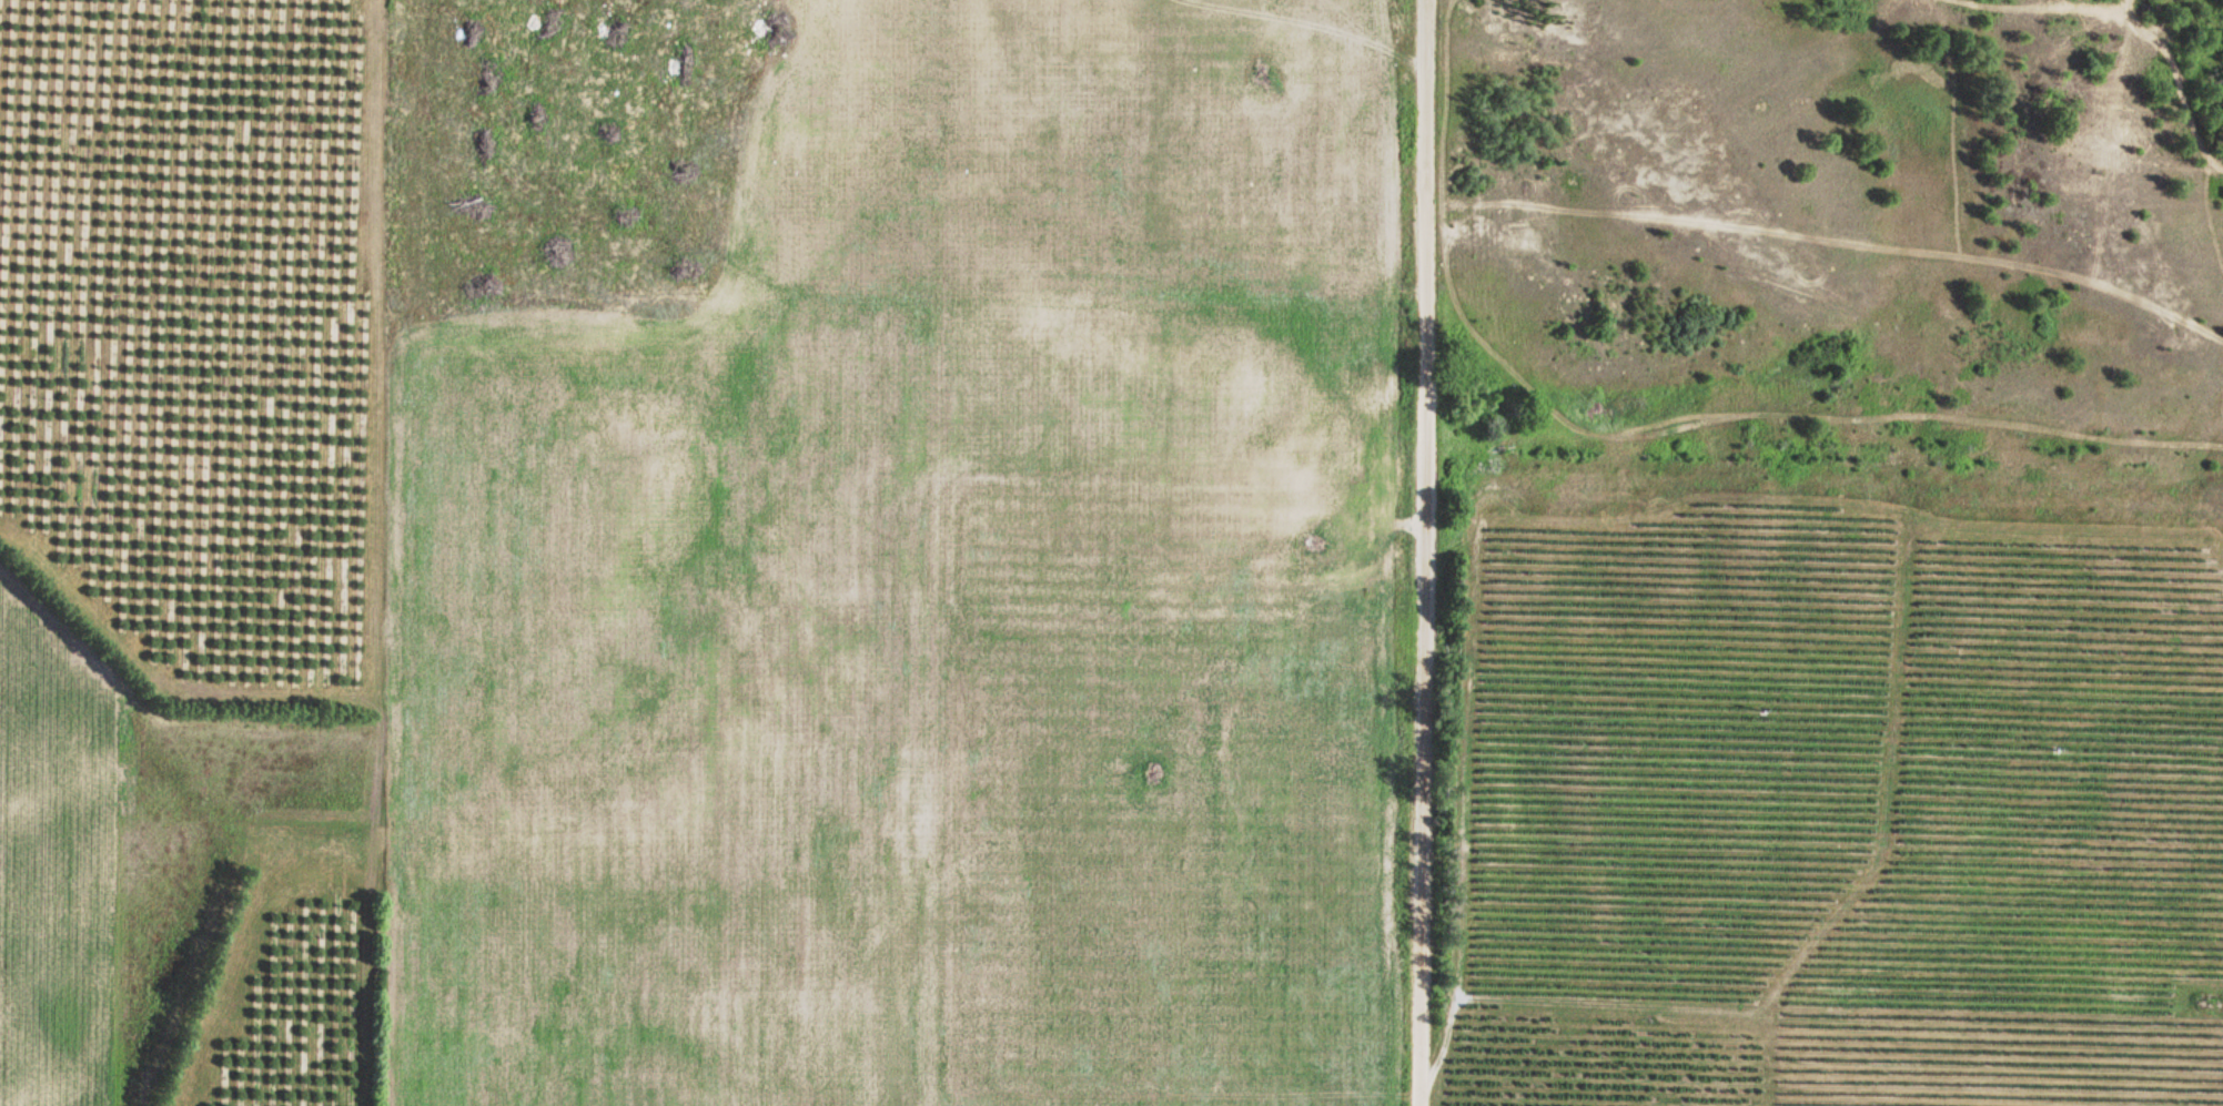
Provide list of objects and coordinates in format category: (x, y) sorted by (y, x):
road: (1413, 552)

